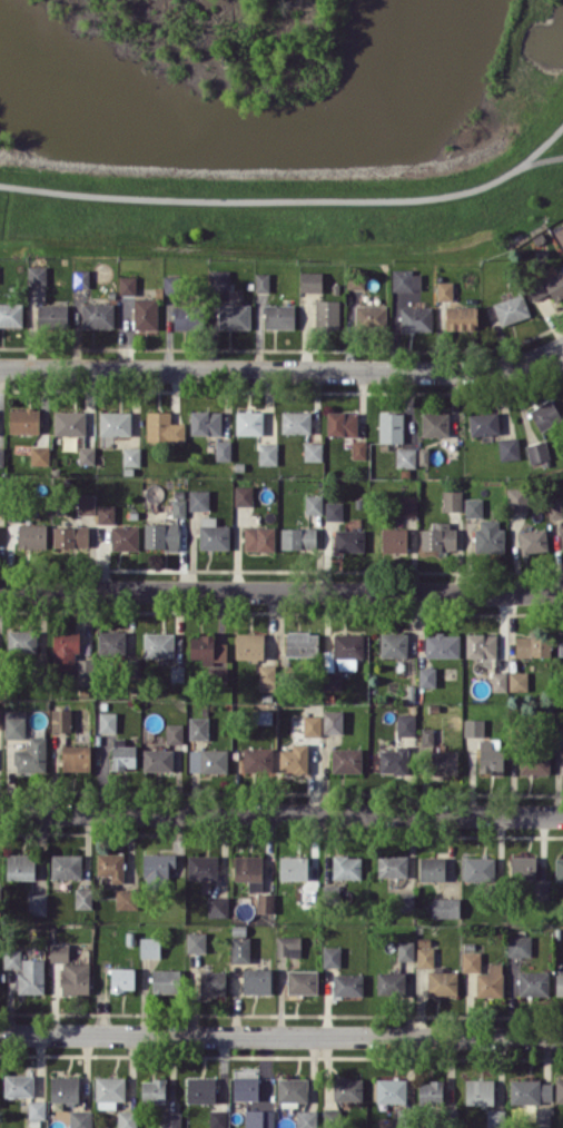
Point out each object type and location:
road: (542, 159)
road: (292, 198)
building: (560, 235)
building: (37, 275)
building: (81, 278)
building: (219, 278)
building: (402, 279)
building: (310, 280)
building: (261, 281)
building: (170, 284)
building: (554, 284)
building: (127, 285)
building: (444, 289)
building: (536, 290)
building: (511, 308)
building: (145, 313)
building: (11, 314)
building: (327, 314)
building: (52, 315)
building: (97, 315)
building: (371, 315)
building: (186, 316)
building: (234, 316)
building: (279, 316)
building: (461, 317)
building: (416, 318)
road: (284, 369)
building: (562, 377)
building: (545, 414)
building: (23, 420)
building: (249, 422)
building: (295, 422)
building: (69, 423)
building: (115, 423)
building: (205, 423)
building: (342, 423)
building: (434, 423)
building: (484, 423)
building: (391, 426)
building: (164, 427)
building: (358, 448)
building: (508, 448)
building: (223, 449)
building: (313, 451)
building: (537, 451)
building: (267, 453)
building: (40, 455)
building: (87, 455)
building: (1, 456)
building: (130, 456)
building: (405, 457)
building: (243, 495)
building: (516, 498)
building: (198, 499)
building: (452, 499)
building: (86, 503)
building: (313, 503)
building: (407, 505)
building: (178, 507)
building: (473, 507)
building: (555, 508)
building: (334, 509)
building: (106, 513)
building: (561, 531)
building: (213, 534)
building: (32, 535)
building: (161, 535)
building: (70, 536)
building: (438, 536)
building: (488, 536)
building: (124, 537)
building: (259, 537)
building: (298, 537)
building: (349, 540)
building: (394, 540)
building: (533, 541)
road: (281, 590)
building: (21, 642)
building: (561, 642)
building: (111, 643)
building: (302, 643)
building: (158, 644)
building: (393, 644)
building: (249, 645)
building: (442, 645)
building: (481, 645)
building: (533, 645)
building: (66, 649)
building: (207, 650)
building: (347, 650)
building: (83, 671)
building: (177, 672)
building: (218, 674)
building: (266, 676)
building: (426, 676)
building: (332, 680)
building: (498, 681)
building: (517, 681)
building: (0, 718)
building: (60, 720)
building: (107, 721)
building: (333, 721)
building: (14, 723)
building: (405, 724)
building: (312, 725)
building: (473, 726)
building: (198, 728)
building: (174, 732)
building: (427, 735)
building: (559, 735)
building: (122, 754)
building: (491, 755)
building: (31, 756)
building: (76, 756)
building: (157, 759)
building: (294, 759)
building: (208, 760)
building: (257, 760)
building: (346, 760)
building: (393, 760)
building: (534, 761)
building: (445, 762)
road: (281, 812)
building: (157, 864)
building: (20, 865)
building: (66, 865)
building: (110, 865)
building: (392, 865)
building: (203, 867)
building: (346, 867)
building: (293, 868)
building: (432, 868)
building: (478, 868)
building: (523, 868)
building: (559, 869)
building: (249, 870)
building: (82, 898)
building: (126, 898)
building: (404, 901)
building: (265, 902)
building: (37, 903)
building: (218, 906)
building: (444, 907)
building: (196, 941)
building: (288, 946)
building: (518, 946)
building: (149, 947)
building: (240, 949)
building: (405, 950)
building: (59, 952)
building: (330, 956)
building: (425, 957)
building: (11, 958)
building: (471, 961)
building: (31, 976)
building: (75, 978)
building: (122, 979)
building: (165, 980)
building: (256, 980)
building: (302, 981)
building: (442, 981)
building: (490, 981)
building: (213, 982)
building: (389, 982)
building: (533, 982)
building: (347, 983)
building: (559, 983)
road: (281, 1035)
building: (18, 1085)
building: (63, 1088)
building: (245, 1088)
building: (200, 1089)
building: (292, 1089)
building: (347, 1089)
building: (391, 1089)
building: (559, 1089)
building: (152, 1090)
building: (531, 1090)
building: (109, 1091)
building: (478, 1091)
building: (431, 1092)
building: (37, 1109)
building: (541, 1117)
building: (81, 1118)
building: (127, 1118)
building: (217, 1118)
building: (258, 1118)
building: (306, 1118)
building: (495, 1118)
building: (170, 1119)

